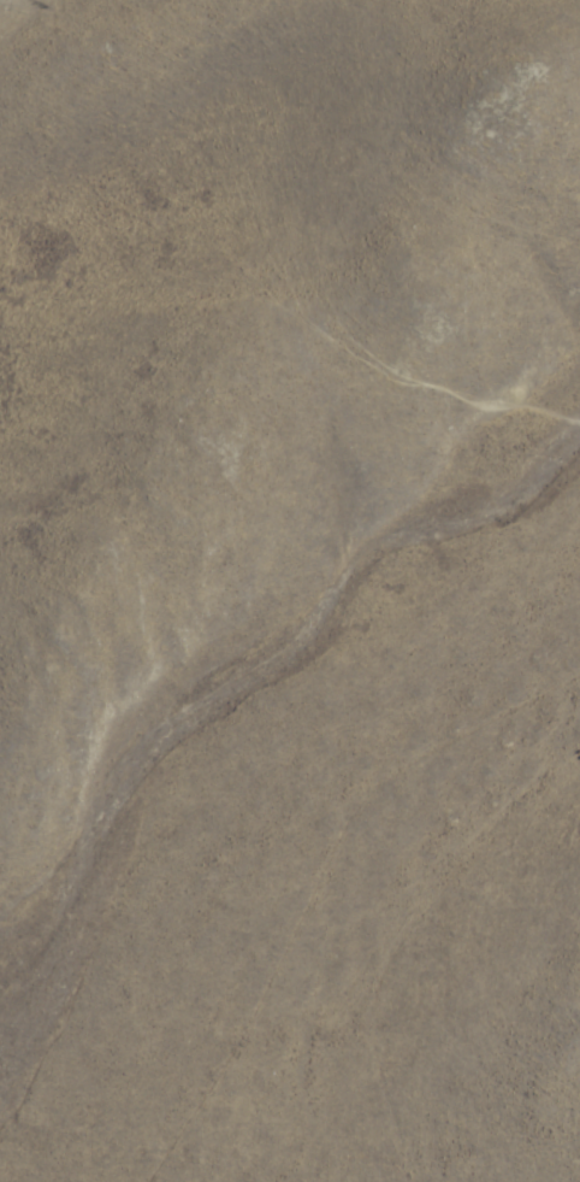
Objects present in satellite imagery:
road: (378, 962)
road: (393, 1083)

